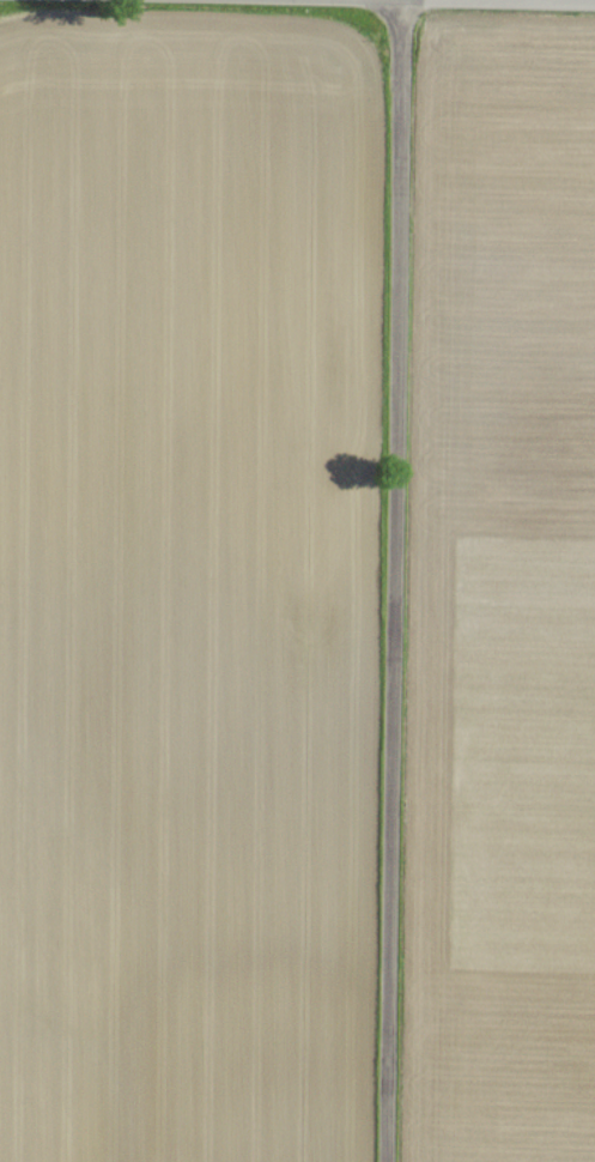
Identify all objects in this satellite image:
road: (402, 581)

